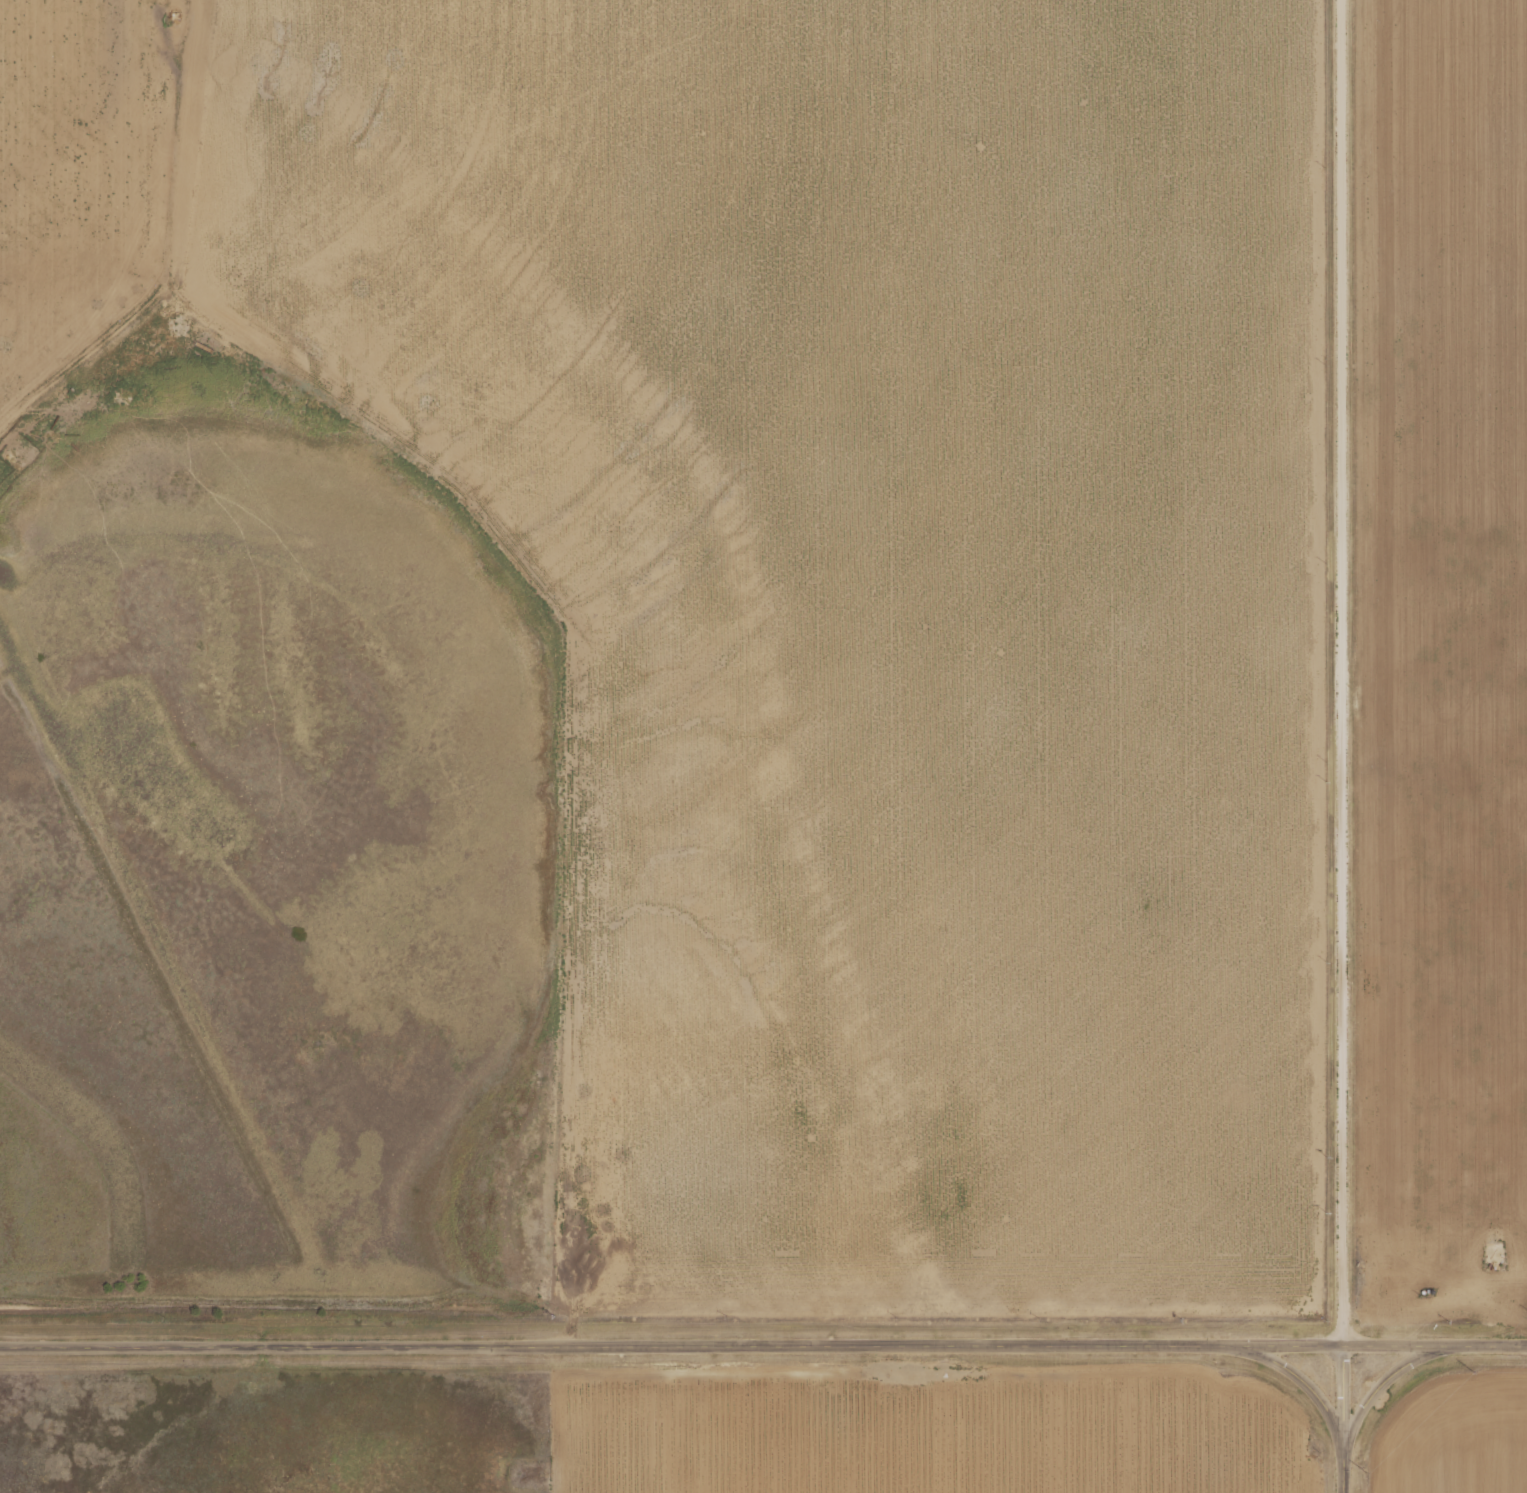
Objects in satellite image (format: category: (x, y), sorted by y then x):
road: (1333, 675)
road: (670, 1353)
road: (1433, 1353)
road: (1297, 1386)
road: (1377, 1390)
road: (1339, 1421)

